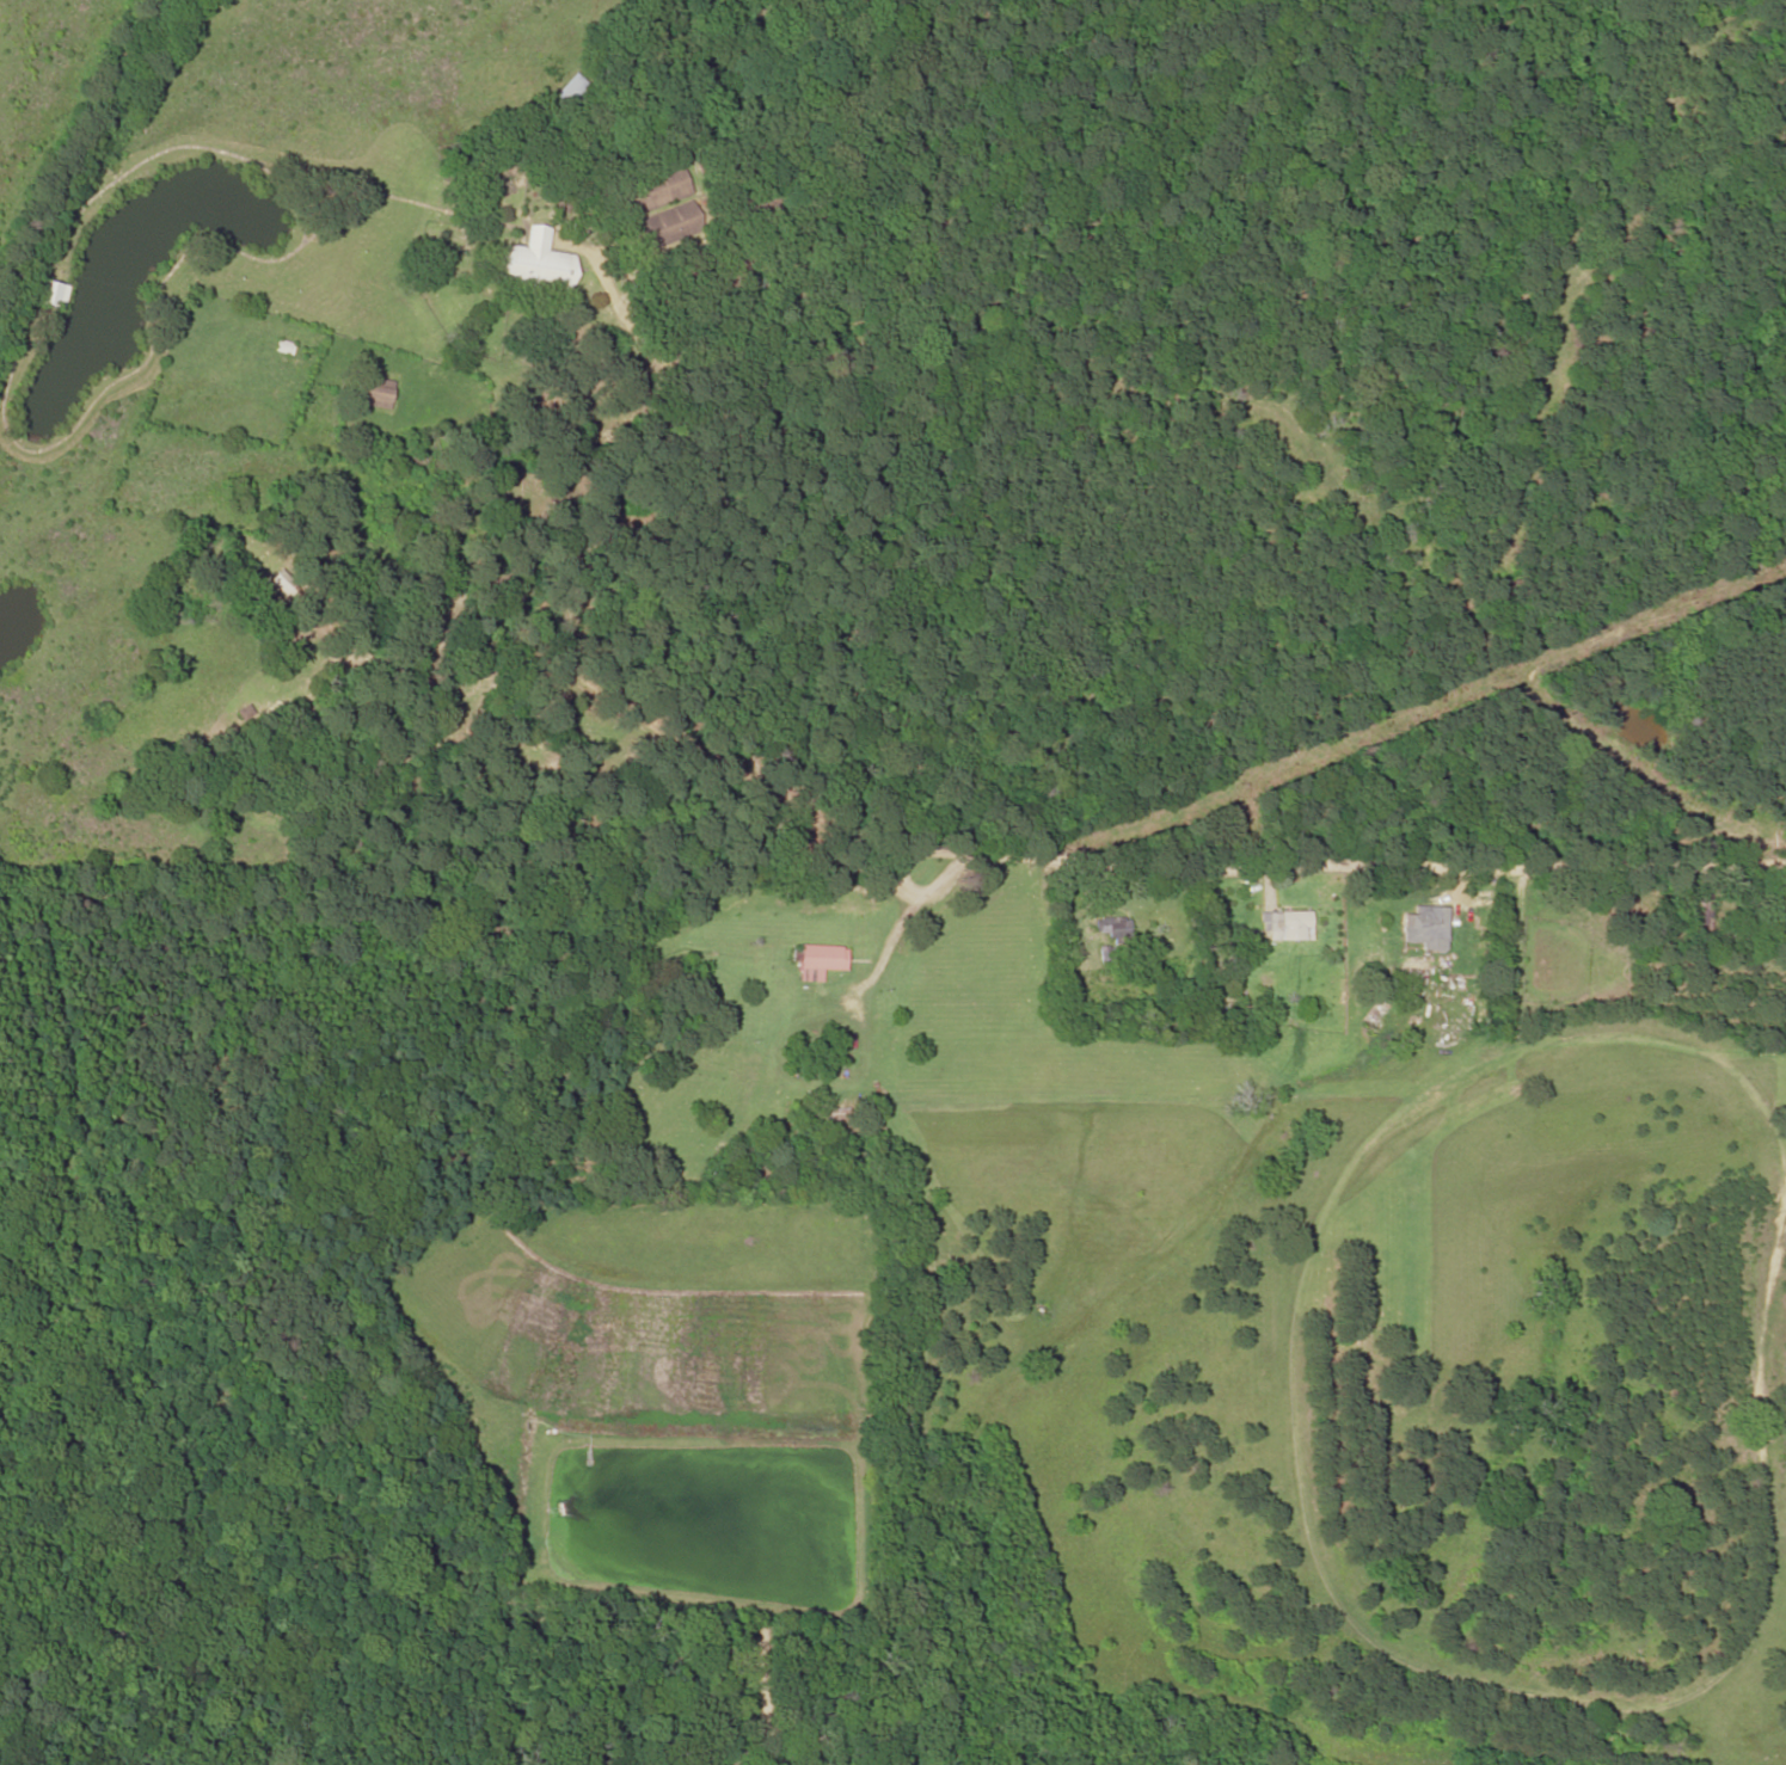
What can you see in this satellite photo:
building: (576, 93)
building: (657, 190)
building: (669, 226)
building: (535, 264)
building: (51, 294)
building: (373, 392)
building: (281, 583)
road: (1319, 871)
building: (1704, 914)
building: (1285, 925)
building: (1425, 928)
building: (1111, 934)
building: (818, 961)
building: (836, 1121)

